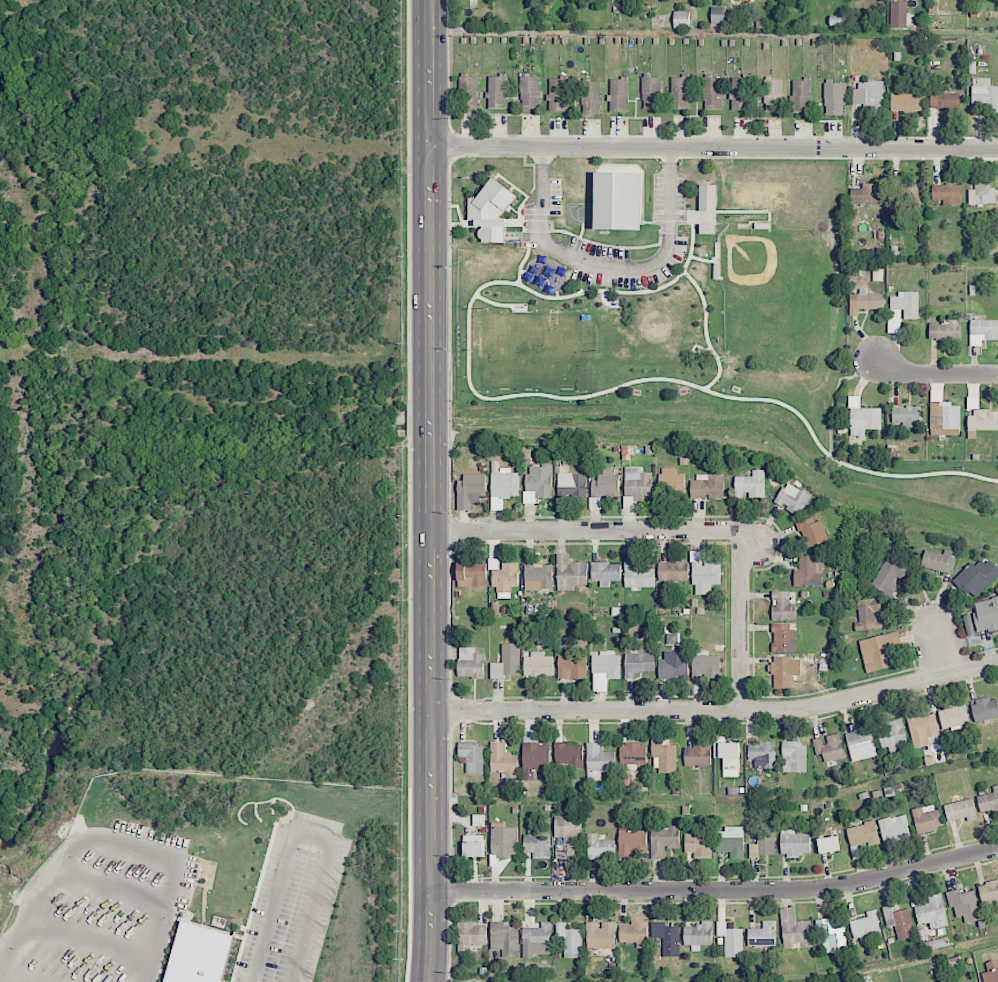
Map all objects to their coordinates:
building: (718, 14)
building: (898, 14)
building: (681, 18)
building: (497, 91)
building: (529, 91)
building: (469, 92)
building: (651, 92)
building: (712, 92)
building: (679, 93)
building: (740, 93)
building: (558, 94)
building: (985, 94)
building: (619, 95)
building: (773, 95)
building: (800, 95)
building: (869, 95)
building: (591, 97)
building: (834, 98)
building: (944, 99)
building: (906, 101)
road: (713, 147)
building: (947, 193)
building: (866, 194)
building: (983, 194)
building: (914, 195)
building: (707, 196)
building: (618, 200)
park: (618, 200)
building: (490, 210)
park: (580, 213)
building: (707, 228)
parking lot: (543, 229)
road: (525, 258)
road: (609, 266)
park: (774, 282)
building: (866, 301)
building: (906, 303)
park: (676, 319)
building: (945, 329)
road: (705, 331)
building: (983, 331)
park: (535, 349)
road: (933, 374)
road: (553, 395)
building: (943, 415)
building: (907, 416)
building: (863, 418)
building: (983, 420)
building: (537, 482)
building: (637, 482)
building: (671, 482)
building: (605, 483)
building: (502, 485)
building: (571, 485)
building: (750, 485)
building: (707, 486)
building: (470, 490)
road: (428, 491)
building: (792, 498)
building: (812, 532)
road: (585, 534)
building: (938, 560)
building: (672, 571)
building: (809, 571)
building: (570, 572)
building: (605, 573)
building: (472, 574)
building: (704, 574)
building: (890, 574)
building: (538, 576)
building: (638, 576)
building: (976, 577)
building: (505, 579)
building: (782, 606)
building: (986, 614)
building: (869, 615)
road: (742, 621)
building: (783, 637)
road: (940, 648)
building: (878, 651)
building: (507, 662)
building: (470, 663)
building: (638, 663)
building: (538, 664)
building: (706, 664)
building: (673, 665)
building: (571, 666)
building: (784, 671)
building: (985, 709)
road: (715, 712)
building: (954, 716)
building: (922, 729)
building: (893, 735)
building: (859, 739)
building: (829, 747)
building: (633, 753)
building: (698, 754)
building: (762, 754)
building: (534, 755)
building: (568, 755)
building: (472, 756)
building: (728, 757)
building: (794, 757)
building: (664, 758)
building: (503, 760)
building: (598, 761)
building: (988, 801)
building: (960, 810)
building: (926, 818)
building: (894, 828)
building: (569, 833)
building: (862, 834)
road: (306, 836)
building: (504, 840)
building: (631, 840)
building: (663, 840)
building: (731, 841)
building: (764, 842)
building: (794, 842)
building: (537, 843)
road: (113, 844)
building: (698, 844)
building: (828, 844)
building: (473, 845)
building: (600, 847)
road: (714, 891)
building: (988, 891)
building: (964, 904)
building: (932, 912)
building: (899, 922)
building: (865, 926)
building: (795, 930)
building: (633, 933)
building: (697, 934)
building: (763, 934)
building: (472, 935)
building: (538, 935)
building: (601, 935)
building: (832, 936)
building: (506, 937)
building: (667, 938)
building: (570, 940)
building: (199, 954)
building: (991, 972)
road: (9, 979)

